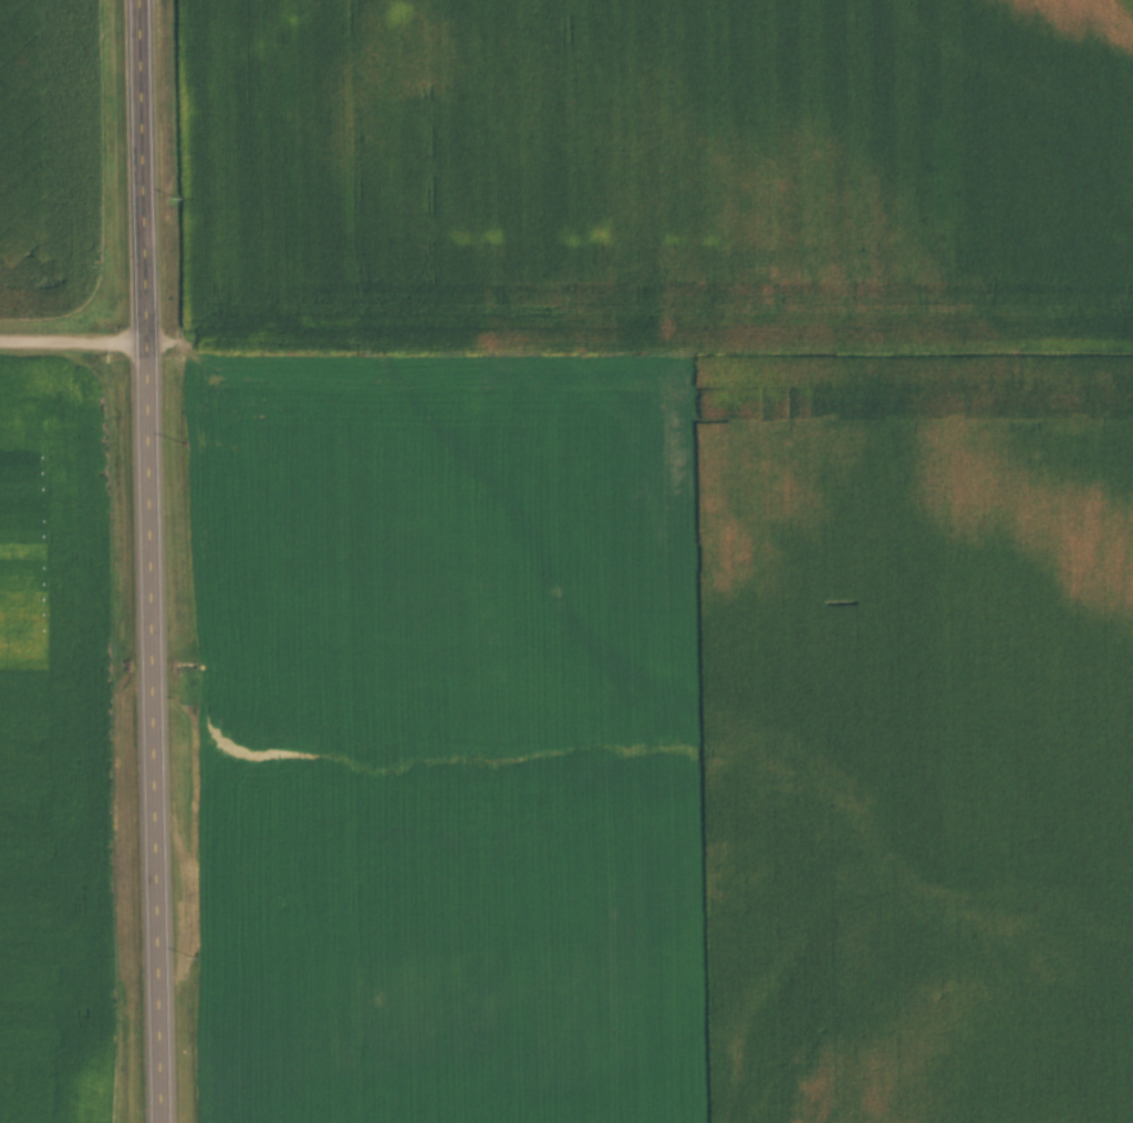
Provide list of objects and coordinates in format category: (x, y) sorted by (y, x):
road: (72, 342)
road: (147, 561)

